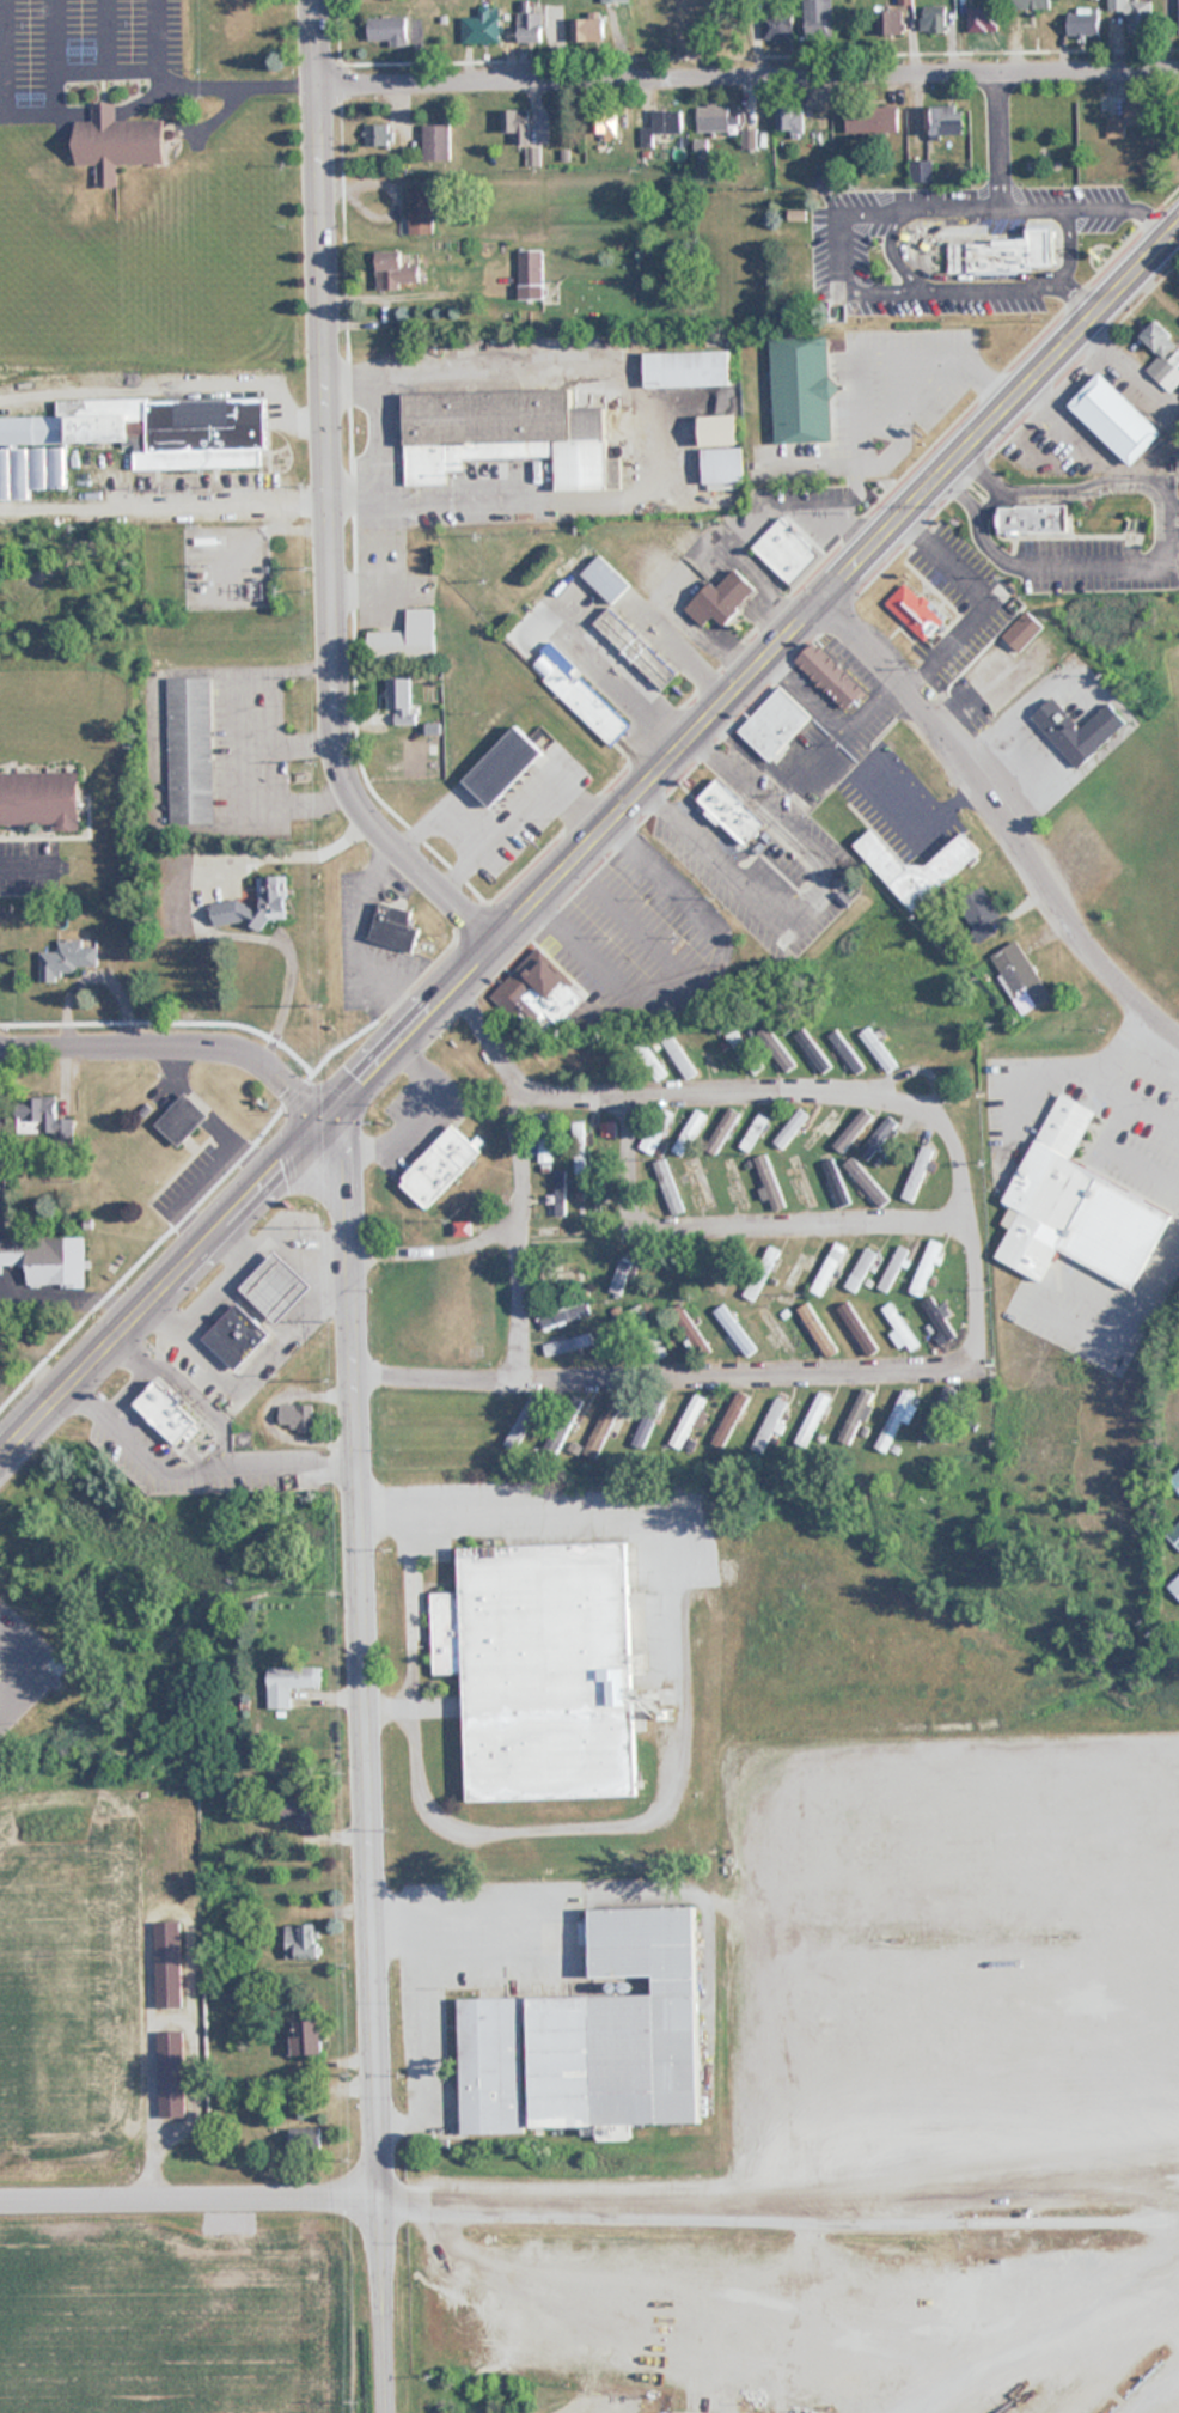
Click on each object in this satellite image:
building: (616, 1)
building: (905, 2)
building: (1031, 5)
building: (1135, 14)
building: (818, 20)
building: (934, 20)
building: (983, 20)
building: (240, 23)
building: (777, 24)
building: (890, 24)
building: (1083, 25)
building: (483, 26)
building: (532, 26)
building: (390, 30)
building: (589, 31)
road: (746, 74)
road: (194, 80)
building: (1140, 112)
building: (717, 120)
building: (873, 120)
building: (792, 122)
building: (945, 122)
building: (606, 123)
building: (517, 124)
building: (661, 126)
building: (378, 135)
building: (750, 139)
building: (436, 142)
building: (121, 144)
building: (922, 171)
road: (1027, 191)
road: (1126, 194)
building: (422, 211)
road: (842, 219)
road: (1064, 239)
building: (1003, 254)
building: (398, 270)
building: (531, 274)
road: (1077, 303)
building: (1163, 355)
building: (688, 368)
building: (802, 389)
building: (1116, 419)
building: (725, 431)
building: (505, 433)
building: (133, 438)
building: (725, 468)
road: (326, 498)
road: (163, 504)
building: (1034, 517)
building: (787, 549)
building: (606, 577)
road: (832, 583)
building: (722, 597)
building: (916, 610)
building: (1024, 629)
building: (407, 638)
building: (635, 647)
building: (830, 675)
building: (399, 693)
park: (1162, 702)
building: (587, 703)
building: (776, 724)
building: (1079, 727)
road: (287, 743)
road: (237, 748)
building: (189, 749)
building: (503, 766)
building: (39, 799)
building: (732, 810)
road: (995, 821)
building: (948, 861)
road: (16, 865)
road: (805, 889)
building: (255, 904)
road: (198, 910)
building: (981, 914)
building: (393, 925)
building: (66, 959)
building: (1020, 976)
building: (538, 997)
road: (465, 1003)
road: (404, 1028)
building: (813, 1049)
building: (777, 1050)
building: (878, 1050)
road: (171, 1052)
building: (744, 1052)
building: (845, 1052)
building: (678, 1055)
building: (648, 1061)
road: (749, 1097)
building: (37, 1114)
building: (183, 1119)
traffic signals: (322, 1119)
building: (606, 1128)
building: (819, 1128)
building: (854, 1128)
building: (722, 1129)
building: (789, 1129)
building: (689, 1132)
building: (755, 1132)
building: (879, 1138)
building: (652, 1140)
building: (579, 1147)
road: (336, 1150)
road: (518, 1157)
building: (440, 1165)
building: (918, 1172)
building: (866, 1181)
building: (770, 1182)
building: (801, 1182)
building: (735, 1184)
building: (667, 1188)
building: (836, 1188)
building: (560, 1193)
building: (600, 1201)
building: (1070, 1205)
road: (749, 1231)
road: (434, 1250)
building: (47, 1259)
building: (926, 1267)
building: (829, 1268)
building: (892, 1268)
building: (860, 1269)
building: (563, 1276)
building: (621, 1276)
building: (277, 1285)
road: (161, 1287)
road: (519, 1303)
building: (562, 1312)
building: (939, 1316)
building: (814, 1326)
building: (900, 1328)
building: (734, 1330)
building: (861, 1334)
building: (237, 1335)
road: (352, 1342)
building: (568, 1343)
road: (733, 1376)
park: (1178, 1382)
building: (167, 1410)
building: (297, 1416)
building: (855, 1416)
building: (612, 1419)
building: (731, 1419)
building: (811, 1419)
building: (894, 1420)
building: (686, 1421)
building: (524, 1422)
building: (768, 1425)
building: (562, 1426)
building: (1175, 1481)
building: (1174, 1535)
park: (1172, 1586)
building: (1174, 1586)
building: (542, 1669)
building: (291, 1682)
road: (386, 1701)
road: (658, 1792)
building: (299, 1808)
road: (145, 1911)
building: (301, 1942)
road: (373, 1957)
building: (167, 1963)
road: (415, 2023)
building: (307, 2034)
building: (594, 2037)
road: (739, 2047)
building: (170, 2073)
building: (306, 2138)
road: (189, 2196)
road: (582, 2340)

